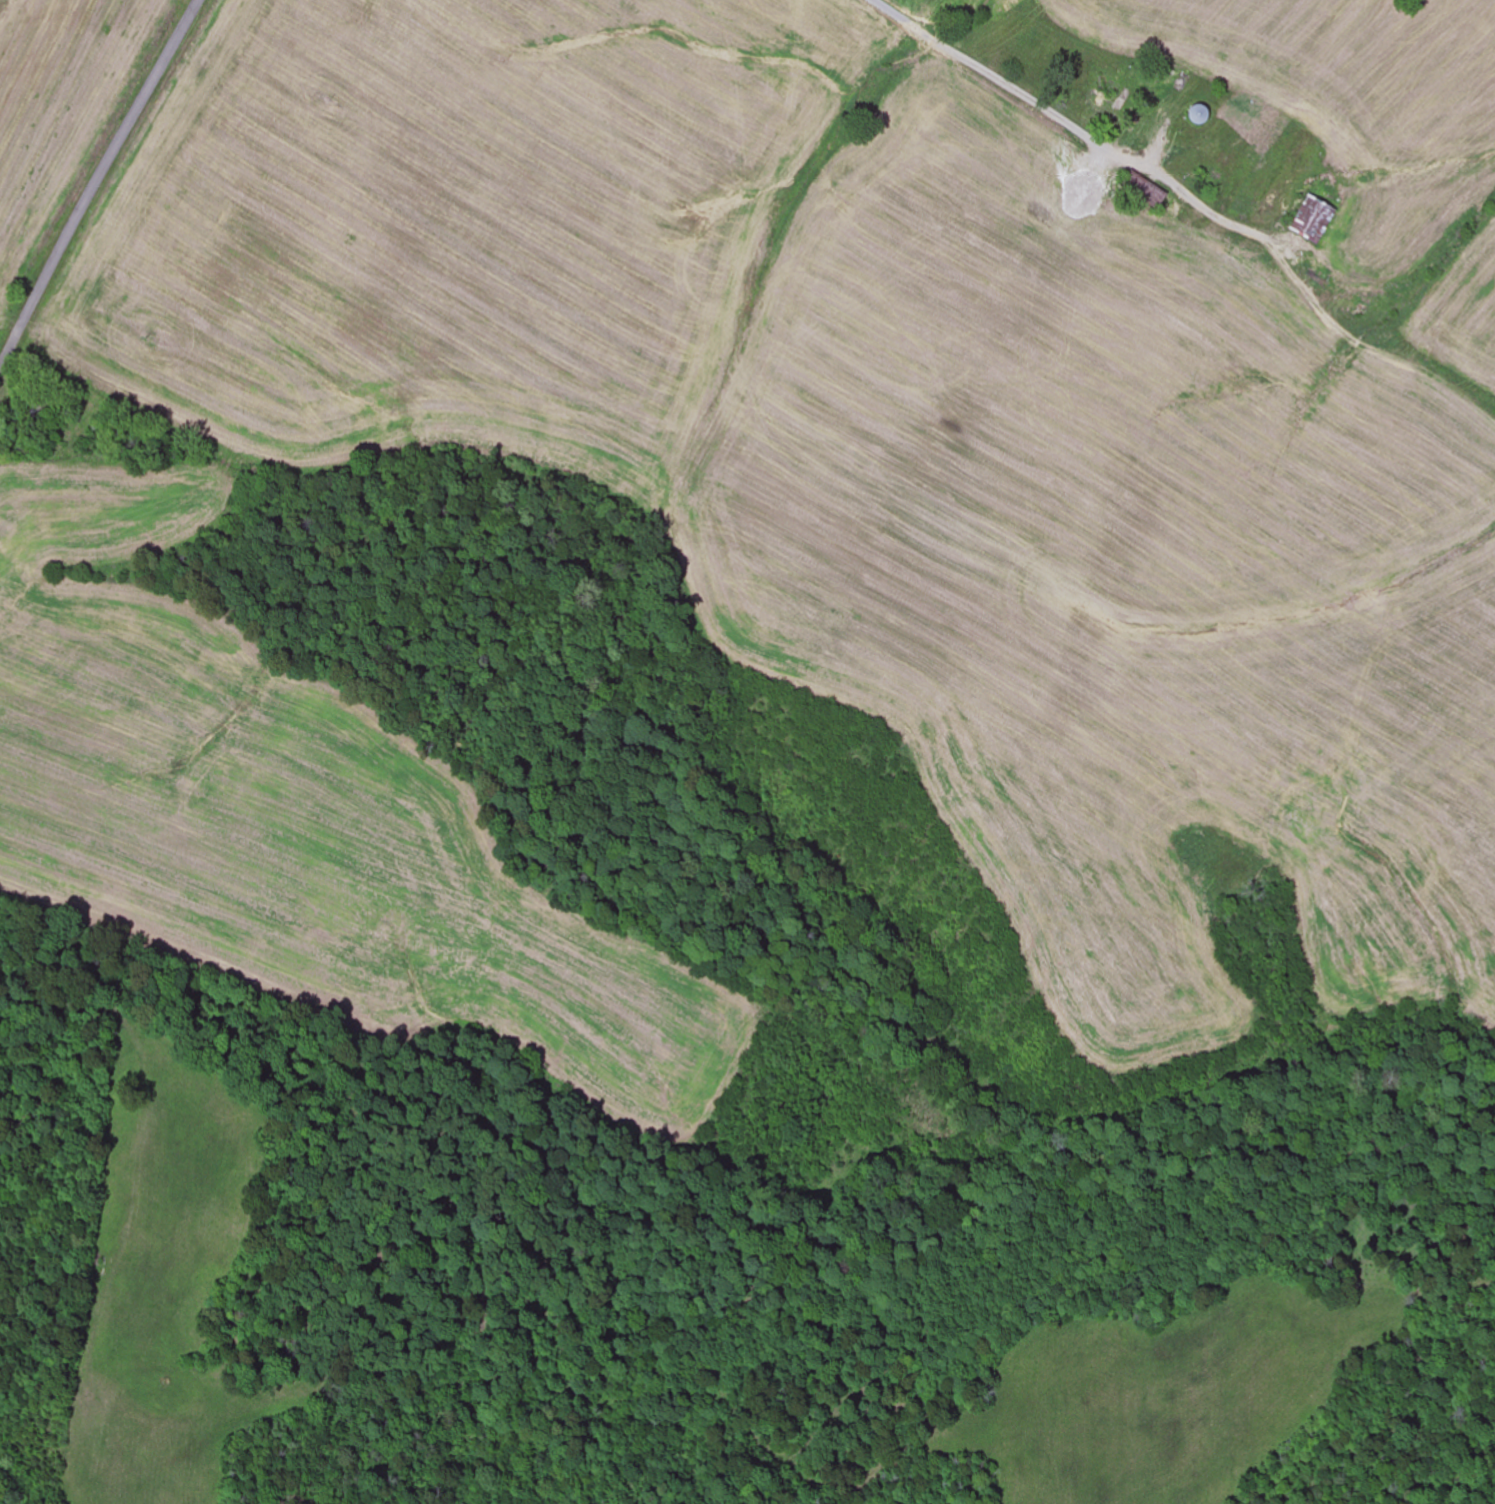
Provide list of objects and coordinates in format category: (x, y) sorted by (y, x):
road: (990, 75)
road: (95, 182)
building: (1310, 222)

